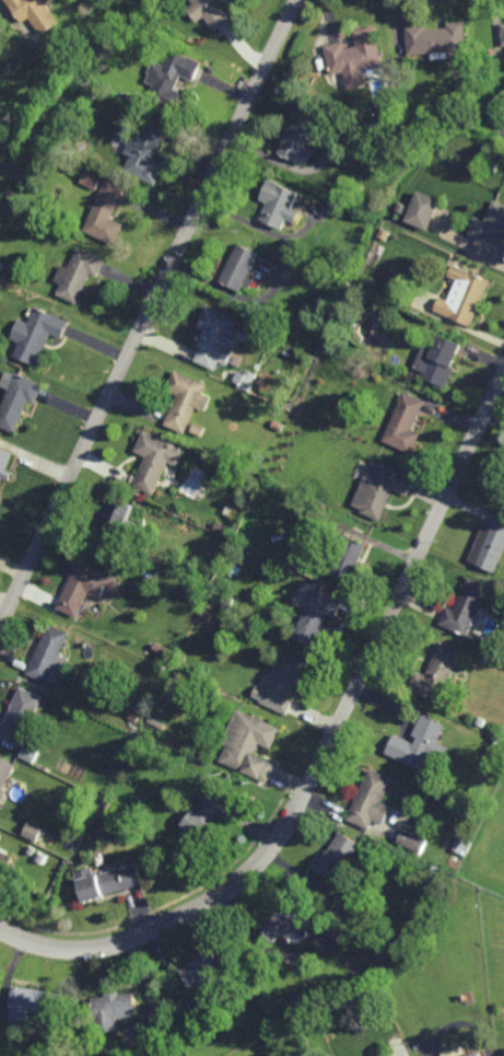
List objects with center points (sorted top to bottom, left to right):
building: (150, 9)
building: (210, 11)
building: (36, 12)
building: (503, 25)
building: (436, 38)
building: (355, 57)
building: (465, 62)
building: (169, 77)
building: (90, 93)
building: (128, 96)
building: (495, 96)
building: (377, 127)
building: (297, 136)
building: (28, 142)
building: (145, 152)
building: (495, 165)
building: (90, 179)
building: (277, 202)
building: (400, 207)
building: (422, 209)
building: (105, 213)
building: (490, 232)
building: (383, 233)
building: (241, 268)
building: (308, 271)
building: (78, 275)
building: (464, 295)
road: (148, 312)
building: (36, 335)
building: (216, 337)
building: (444, 360)
building: (360, 370)
building: (244, 379)
building: (185, 399)
building: (19, 401)
building: (296, 419)
building: (405, 423)
building: (232, 426)
building: (198, 430)
building: (4, 462)
building: (152, 462)
building: (380, 489)
building: (112, 524)
building: (489, 545)
building: (348, 559)
building: (167, 565)
building: (84, 588)
building: (226, 605)
building: (464, 607)
building: (204, 616)
building: (315, 616)
building: (161, 650)
building: (46, 653)
building: (436, 674)
building: (280, 682)
building: (121, 695)
building: (19, 713)
building: (479, 721)
building: (161, 722)
building: (418, 742)
building: (248, 743)
building: (30, 749)
road: (325, 749)
building: (4, 770)
building: (370, 799)
building: (107, 806)
building: (207, 811)
building: (32, 829)
building: (410, 839)
building: (459, 844)
building: (30, 848)
track: (503, 848)
building: (337, 854)
building: (40, 856)
building: (4, 861)
building: (106, 880)
building: (286, 922)
building: (384, 942)
building: (201, 967)
building: (34, 1001)
building: (113, 1008)
building: (446, 1053)
building: (472, 1054)

